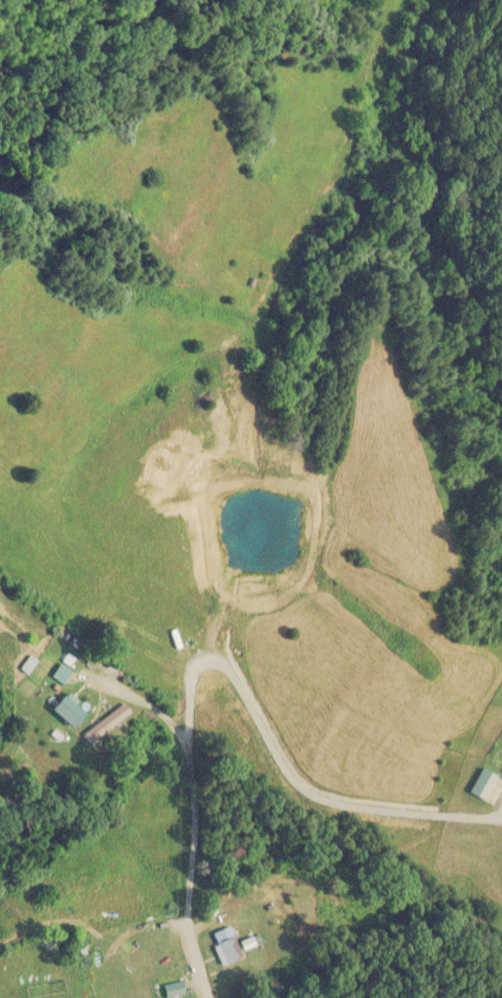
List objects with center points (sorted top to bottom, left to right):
building: (27, 664)
building: (59, 674)
building: (66, 710)
road: (225, 946)
building: (228, 949)
building: (172, 990)

